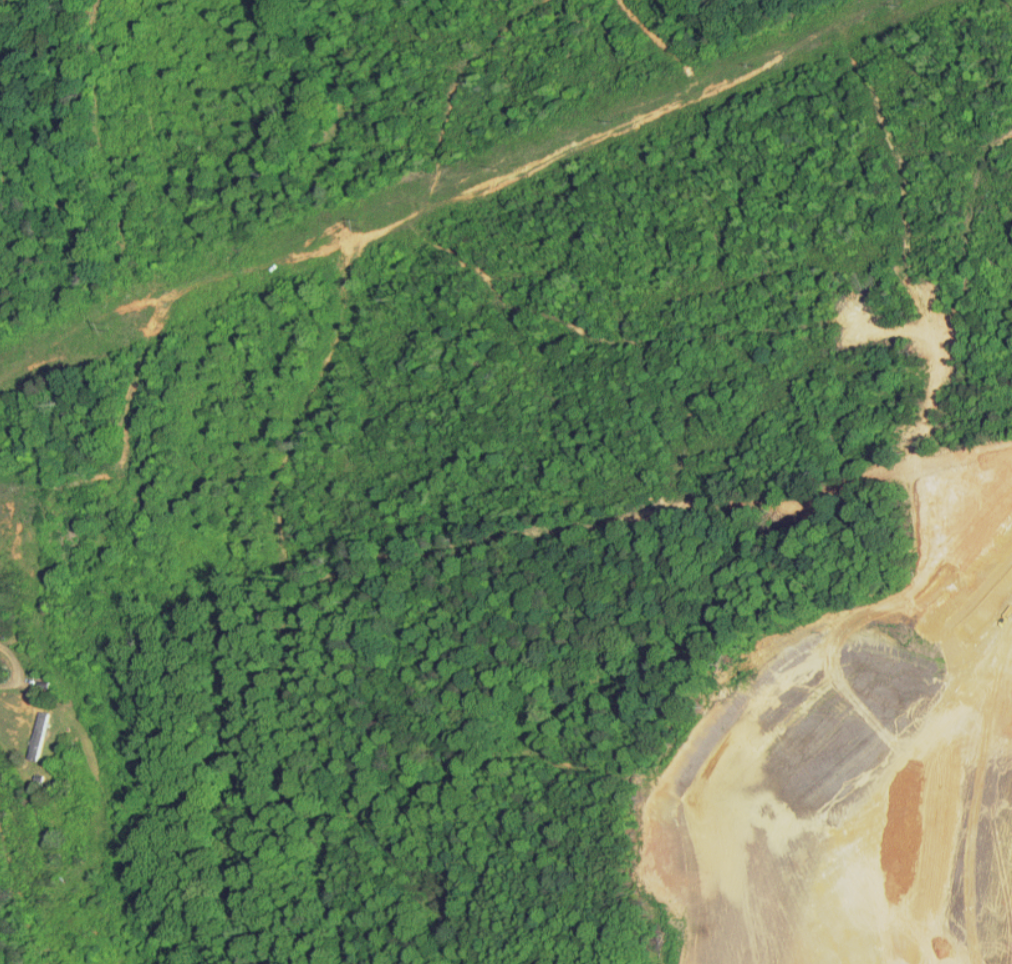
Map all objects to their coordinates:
road: (18, 667)
building: (30, 730)

